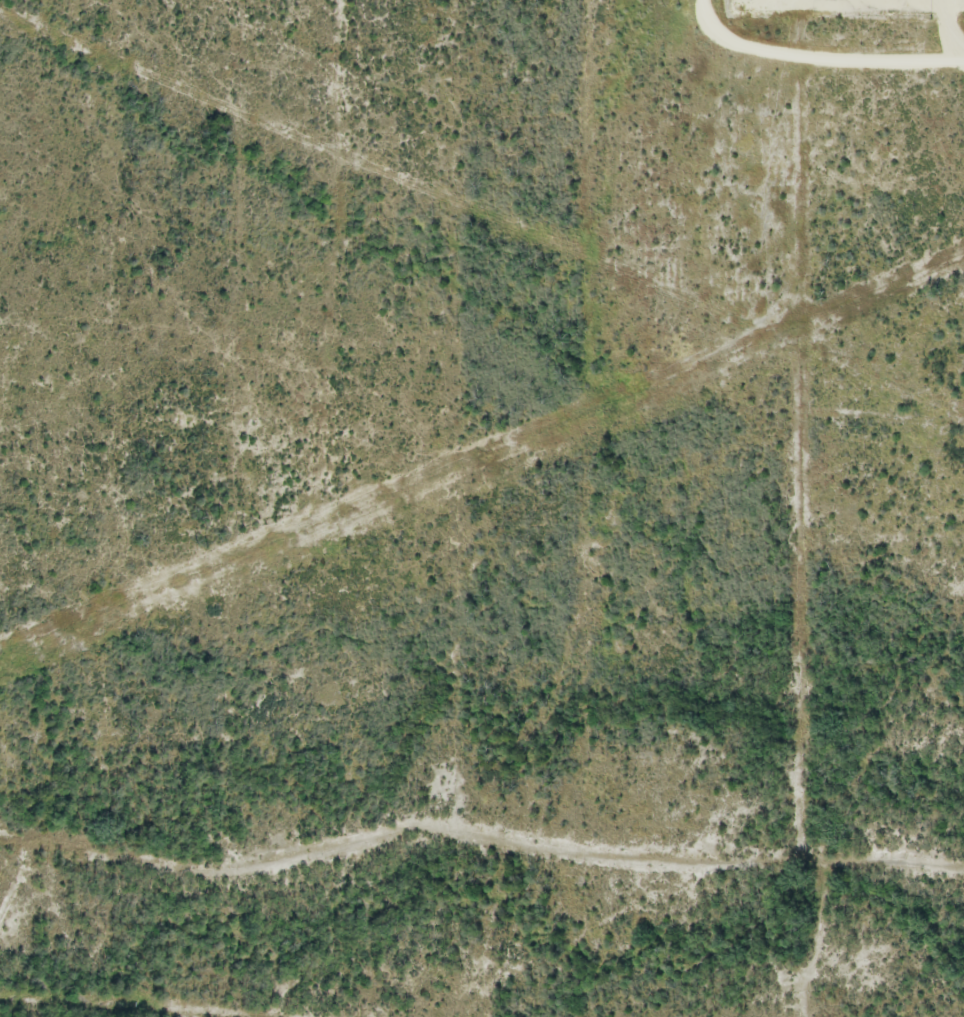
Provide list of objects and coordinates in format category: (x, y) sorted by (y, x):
road: (950, 29)

